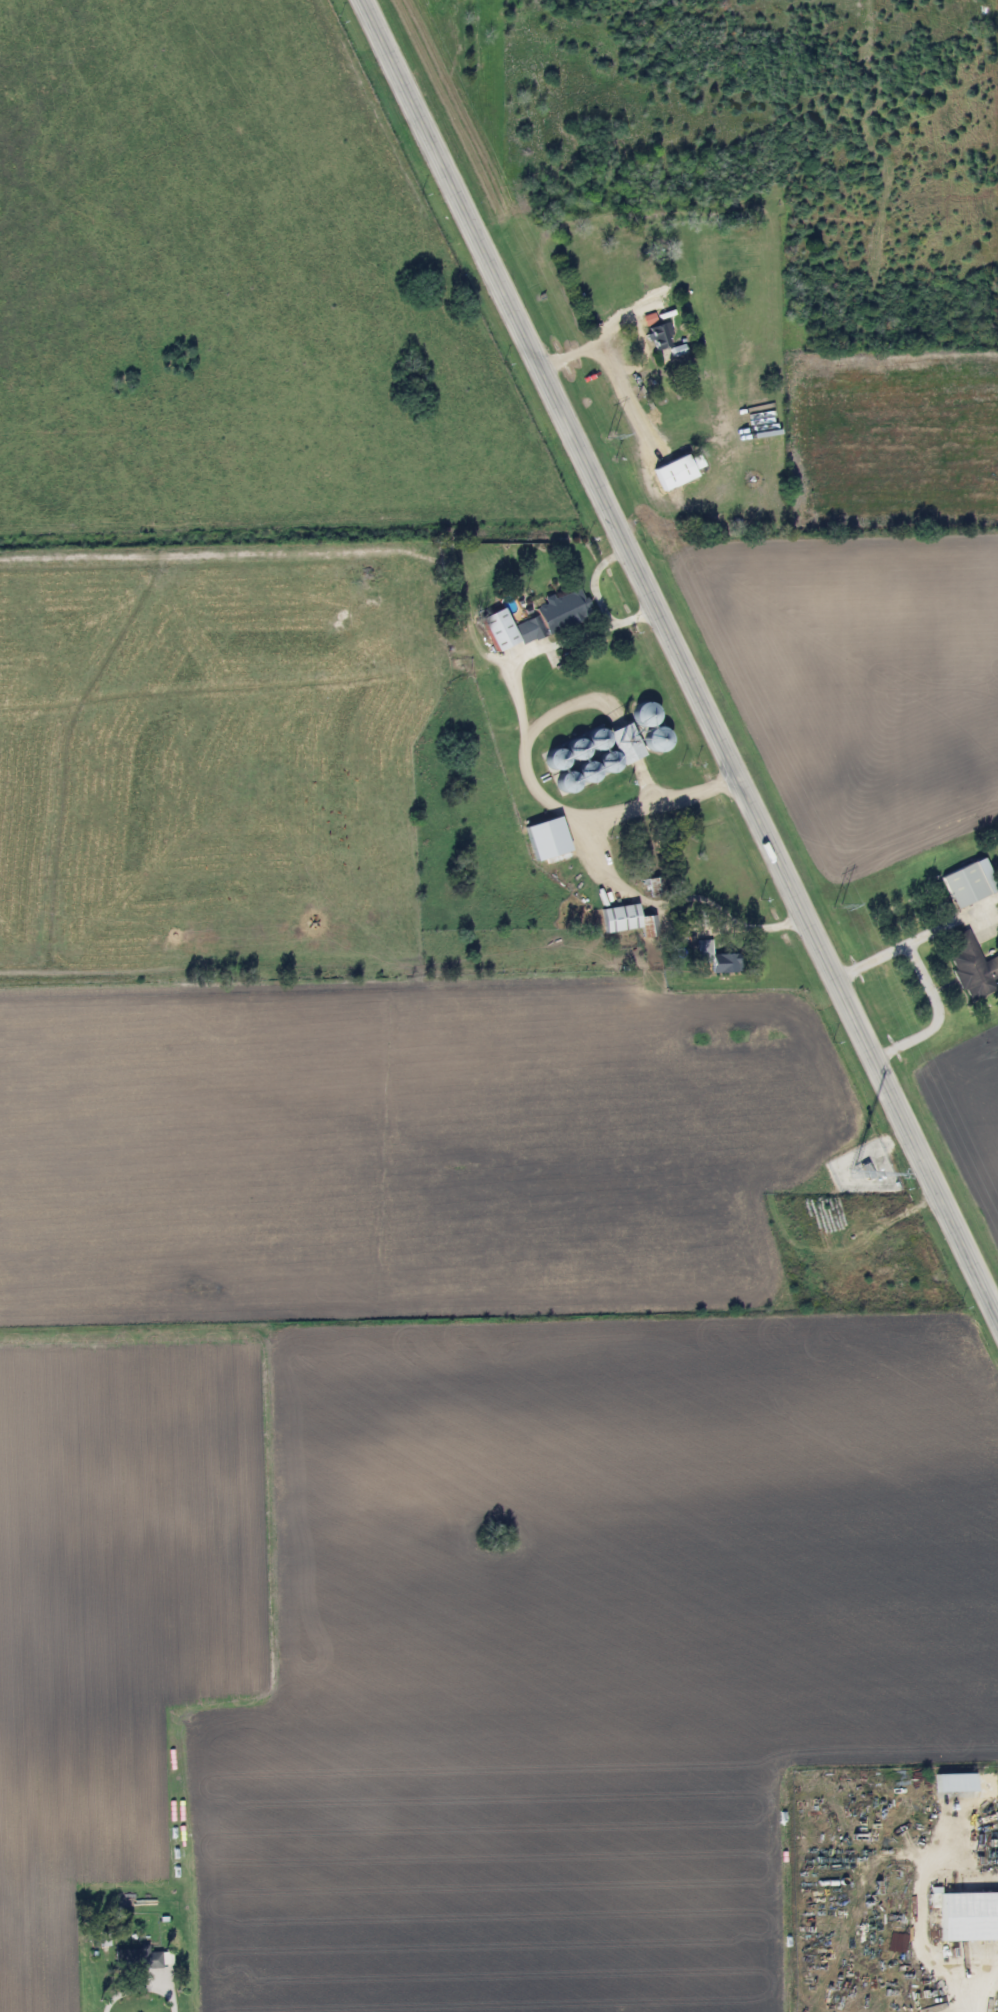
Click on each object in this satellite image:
road: (634, 328)
building: (659, 337)
power tower: (609, 436)
building: (676, 470)
road: (598, 579)
building: (557, 613)
building: (498, 629)
road: (560, 645)
road: (680, 655)
building: (643, 720)
building: (654, 739)
building: (592, 756)
road: (648, 784)
road: (561, 816)
building: (968, 883)
power tower: (836, 905)
building: (626, 920)
road: (767, 930)
building: (711, 955)
building: (971, 968)
road: (927, 984)
road: (285, 1549)
building: (954, 1784)
building: (968, 1918)
building: (136, 1960)

